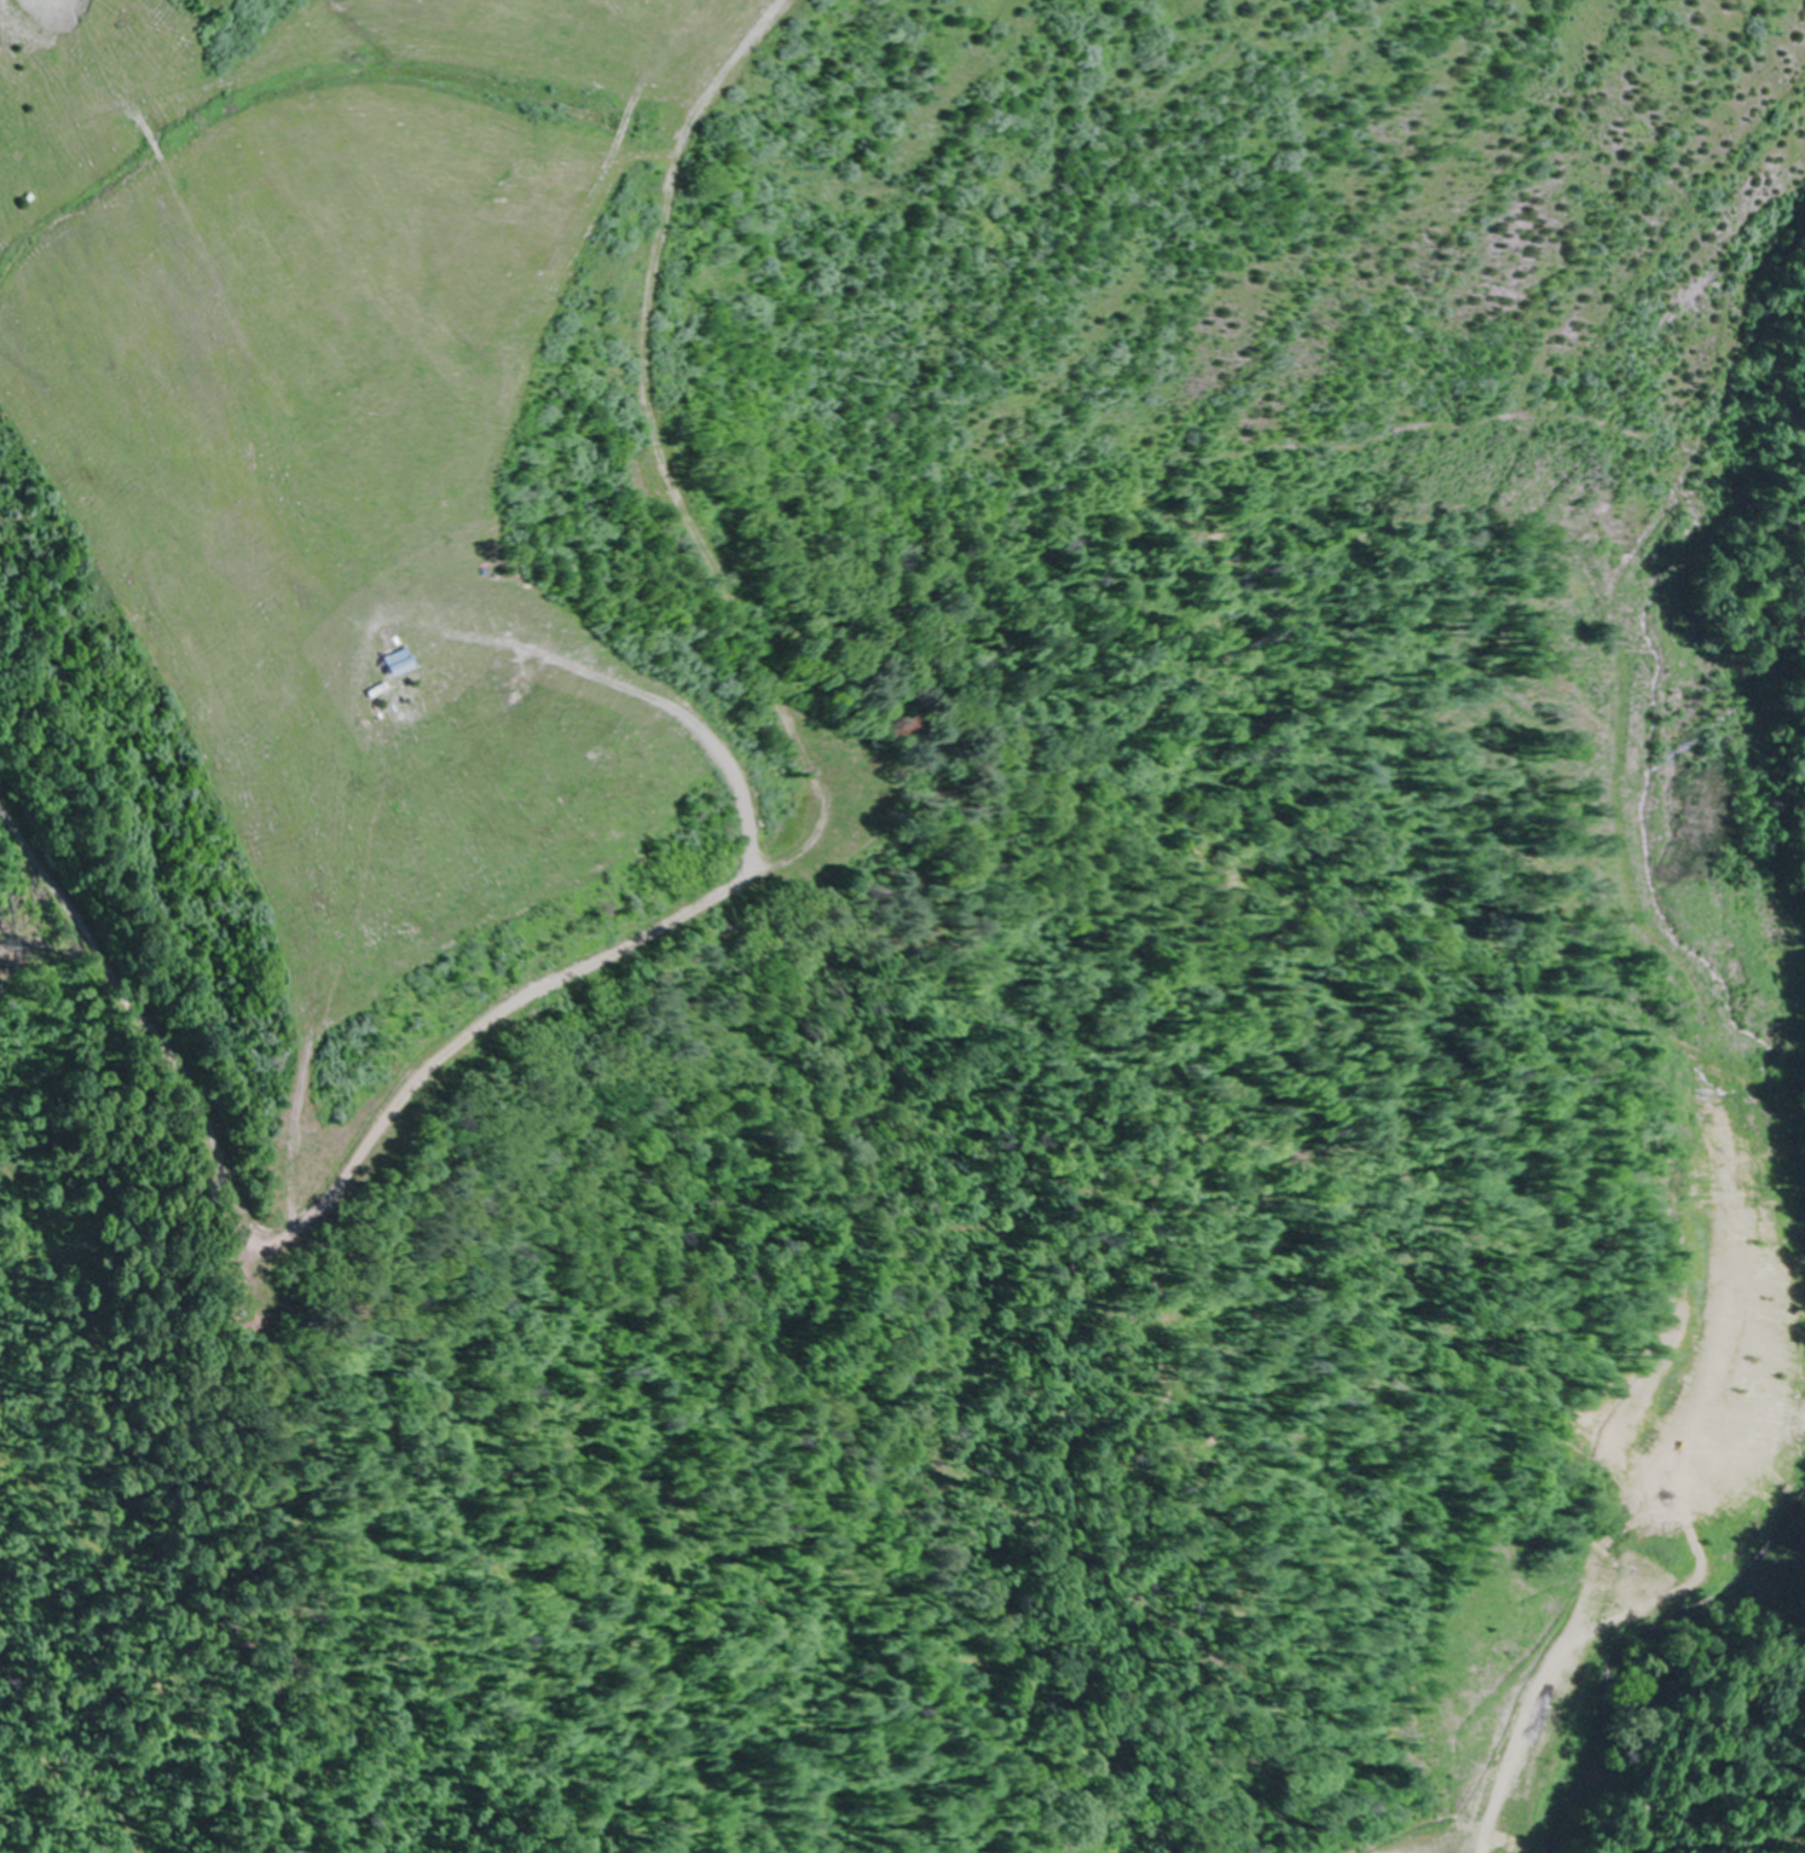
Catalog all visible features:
road: (1492, 1797)

